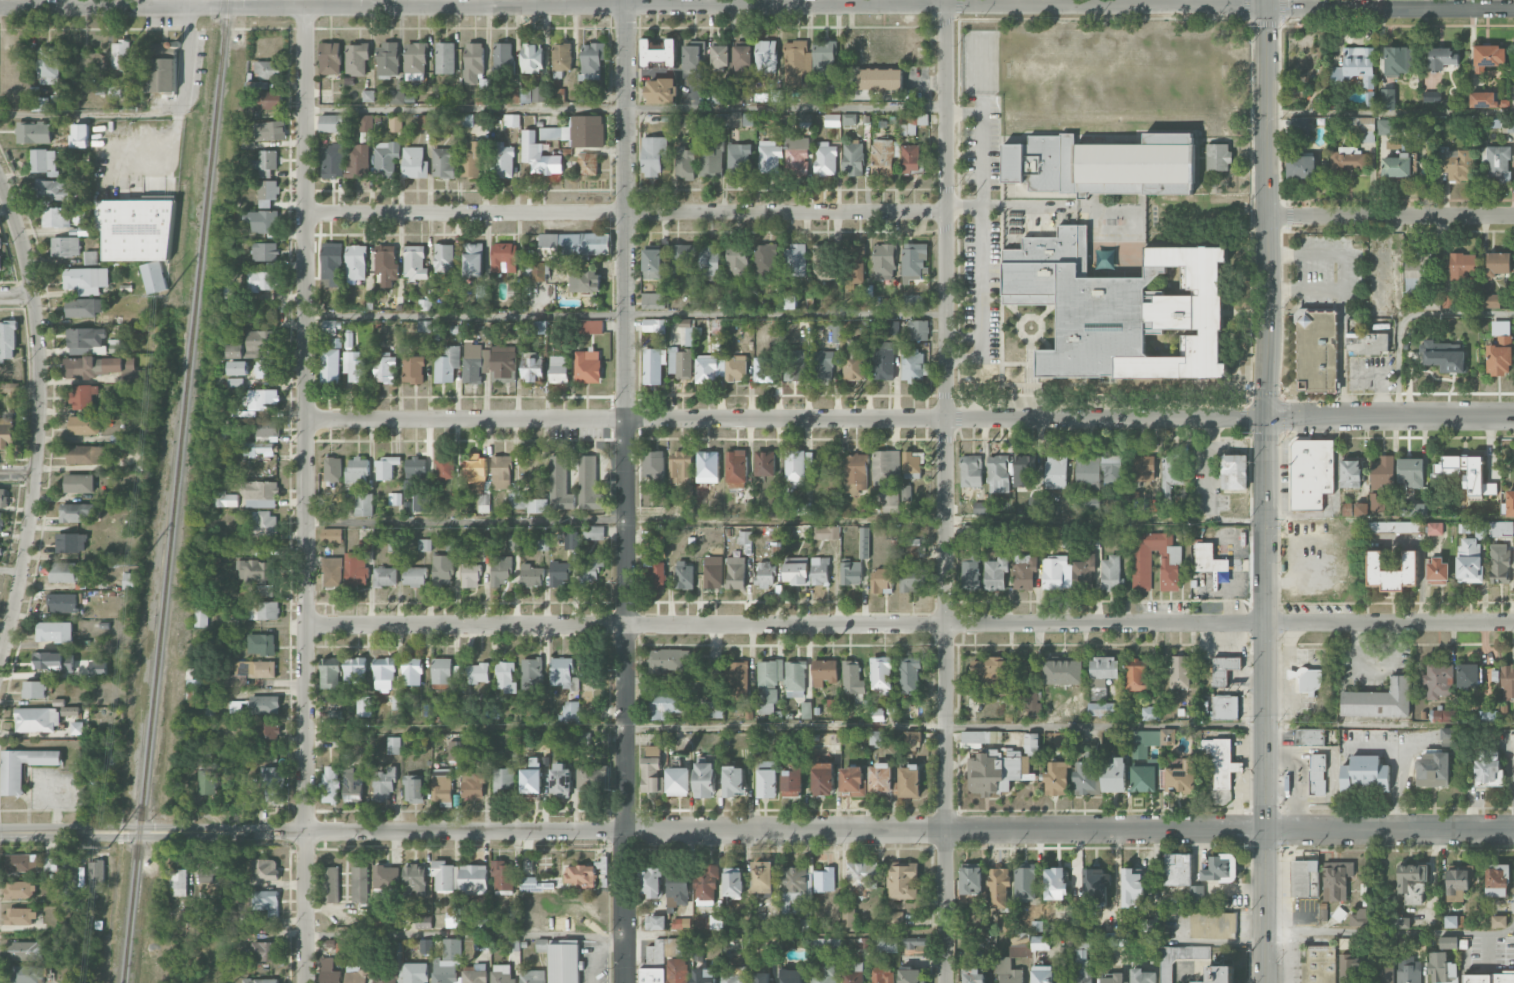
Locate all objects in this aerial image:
road: (1184, 3)
road: (267, 4)
road: (756, 8)
building: (658, 52)
building: (120, 54)
building: (503, 56)
building: (693, 56)
building: (766, 56)
building: (719, 57)
building: (742, 57)
building: (824, 57)
building: (1488, 57)
building: (330, 58)
building: (445, 58)
building: (532, 58)
building: (1442, 58)
building: (357, 59)
building: (561, 59)
building: (387, 60)
road: (186, 61)
building: (415, 61)
building: (592, 61)
building: (1398, 61)
building: (794, 63)
building: (474, 64)
building: (49, 65)
building: (1355, 66)
building: (162, 67)
building: (268, 70)
road: (672, 73)
building: (880, 79)
building: (114, 91)
building: (661, 91)
building: (833, 93)
building: (533, 94)
building: (512, 95)
building: (397, 97)
building: (718, 97)
building: (1387, 99)
building: (1482, 99)
building: (38, 100)
building: (270, 100)
road: (625, 109)
road: (89, 114)
road: (1389, 114)
building: (735, 119)
building: (849, 119)
building: (832, 120)
building: (424, 121)
building: (467, 121)
building: (912, 122)
building: (330, 123)
building: (366, 123)
building: (805, 123)
building: (395, 124)
building: (1510, 125)
building: (1300, 127)
building: (1363, 127)
building: (1385, 127)
building: (270, 131)
building: (34, 132)
building: (578, 132)
building: (79, 135)
road: (128, 135)
building: (653, 155)
building: (539, 156)
building: (769, 156)
building: (386, 157)
building: (796, 157)
building: (882, 157)
building: (1217, 157)
building: (910, 158)
building: (739, 159)
building: (824, 159)
building: (853, 159)
building: (358, 160)
building: (473, 160)
building: (712, 160)
building: (44, 161)
building: (333, 161)
building: (505, 161)
building: (1346, 161)
building: (266, 163)
building: (414, 163)
building: (444, 163)
building: (685, 163)
building: (588, 164)
building: (1498, 164)
building: (1103, 165)
building: (1455, 165)
building: (1396, 166)
building: (1301, 167)
building: (267, 192)
road: (964, 206)
road: (625, 211)
building: (56, 217)
road: (1391, 219)
building: (262, 221)
building: (136, 229)
road: (982, 236)
building: (573, 244)
building: (65, 246)
building: (0, 247)
building: (265, 252)
building: (504, 257)
building: (443, 258)
building: (821, 258)
building: (473, 259)
building: (710, 260)
building: (795, 260)
building: (682, 261)
building: (737, 261)
building: (356, 262)
building: (883, 262)
building: (913, 262)
building: (332, 263)
building: (386, 263)
building: (415, 263)
building: (652, 263)
building: (765, 263)
building: (854, 263)
building: (1497, 264)
building: (1462, 265)
building: (540, 271)
building: (1417, 273)
building: (153, 277)
building: (585, 279)
building: (85, 280)
building: (261, 280)
road: (1304, 288)
power tower: (165, 294)
road: (16, 296)
road: (1341, 299)
building: (653, 300)
building: (912, 301)
building: (1490, 301)
building: (424, 303)
building: (83, 307)
building: (1122, 309)
road: (625, 312)
road: (1409, 315)
building: (653, 325)
building: (421, 326)
building: (591, 326)
building: (330, 327)
building: (539, 327)
building: (891, 327)
building: (918, 330)
road: (964, 335)
building: (7, 340)
building: (1367, 343)
building: (258, 344)
building: (235, 350)
building: (1499, 350)
building: (1317, 351)
building: (1443, 357)
building: (854, 360)
building: (883, 361)
building: (474, 362)
building: (503, 363)
building: (680, 363)
building: (447, 364)
building: (796, 365)
building: (330, 366)
building: (354, 366)
building: (588, 366)
building: (652, 366)
building: (823, 366)
building: (912, 366)
building: (105, 368)
building: (238, 368)
building: (385, 368)
building: (532, 368)
building: (709, 368)
building: (735, 368)
building: (265, 369)
building: (413, 369)
building: (559, 369)
building: (763, 369)
building: (235, 382)
building: (9, 387)
building: (83, 397)
building: (263, 398)
road: (38, 417)
road: (909, 418)
building: (84, 425)
building: (265, 428)
building: (7, 441)
building: (258, 448)
building: (86, 454)
building: (765, 463)
building: (912, 465)
building: (654, 466)
building: (385, 467)
building: (680, 467)
building: (707, 467)
building: (444, 468)
building: (797, 468)
building: (1146, 468)
building: (333, 469)
building: (736, 469)
building: (1113, 469)
building: (357, 470)
building: (1024, 470)
building: (970, 471)
building: (1087, 471)
building: (501, 472)
building: (1056, 472)
building: (1234, 472)
building: (1382, 472)
building: (1411, 472)
road: (17, 473)
building: (855, 473)
building: (998, 473)
building: (1170, 473)
building: (1311, 473)
building: (1465, 473)
building: (475, 474)
building: (1350, 474)
building: (884, 479)
building: (79, 483)
building: (560, 484)
building: (589, 484)
railway: (174, 491)
road: (624, 491)
road: (946, 491)
road: (1267, 491)
building: (249, 495)
building: (3, 496)
road: (305, 496)
building: (515, 496)
building: (394, 499)
building: (421, 502)
building: (483, 503)
building: (1509, 503)
building: (363, 504)
building: (1375, 504)
building: (538, 505)
building: (980, 508)
building: (1360, 509)
building: (1414, 509)
building: (75, 513)
building: (107, 515)
road: (909, 521)
building: (1, 522)
building: (265, 524)
building: (1394, 527)
building: (1434, 528)
building: (594, 532)
building: (826, 532)
building: (970, 532)
building: (331, 535)
building: (744, 538)
building: (569, 540)
building: (71, 542)
building: (513, 542)
building: (864, 542)
building: (366, 544)
building: (424, 544)
building: (452, 544)
building: (540, 544)
building: (0, 552)
building: (1208, 559)
building: (1469, 560)
power tower: (136, 564)
building: (1499, 564)
building: (590, 567)
road: (10, 569)
building: (355, 569)
building: (442, 569)
building: (255, 570)
building: (796, 570)
building: (820, 571)
building: (1141, 571)
building: (1438, 571)
building: (67, 572)
building: (332, 572)
building: (499, 572)
building: (713, 572)
building: (736, 572)
building: (970, 572)
building: (1024, 572)
building: (1054, 572)
building: (1391, 572)
building: (851, 573)
building: (995, 573)
building: (1083, 573)
building: (559, 574)
building: (764, 574)
building: (1111, 574)
building: (470, 575)
building: (531, 575)
building: (656, 575)
building: (684, 575)
building: (414, 576)
building: (385, 577)
building: (912, 579)
building: (129, 581)
building: (63, 603)
building: (263, 610)
building: (201, 617)
road: (909, 624)
building: (54, 632)
building: (261, 644)
building: (667, 660)
building: (53, 661)
building: (97, 667)
building: (355, 668)
building: (1223, 669)
building: (251, 671)
building: (412, 671)
building: (1179, 671)
building: (823, 672)
building: (1064, 672)
building: (330, 673)
building: (443, 673)
building: (478, 673)
building: (531, 673)
building: (562, 673)
building: (384, 674)
building: (909, 675)
building: (993, 675)
building: (1102, 675)
building: (1136, 675)
building: (880, 676)
building: (1467, 676)
building: (506, 678)
building: (738, 679)
building: (795, 679)
building: (1307, 679)
building: (1437, 680)
building: (1507, 681)
building: (853, 682)
building: (193, 683)
building: (768, 685)
building: (34, 689)
building: (1380, 700)
building: (665, 704)
building: (264, 705)
building: (363, 706)
building: (1032, 706)
building: (1225, 707)
building: (1513, 708)
building: (712, 709)
building: (1101, 709)
building: (69, 711)
building: (569, 712)
building: (336, 713)
building: (1150, 713)
building: (1440, 716)
building: (876, 717)
building: (37, 720)
road: (909, 725)
building: (76, 728)
building: (268, 730)
building: (1167, 736)
building: (1449, 736)
building: (1309, 737)
building: (977, 738)
building: (1059, 738)
building: (876, 739)
building: (912, 739)
building: (1032, 743)
building: (393, 745)
building: (1142, 745)
building: (454, 751)
building: (1219, 762)
building: (1488, 768)
building: (1433, 769)
building: (651, 771)
building: (997, 771)
building: (1317, 774)
building: (1365, 774)
building: (1086, 775)
building: (1114, 776)
building: (531, 777)
building: (592, 777)
building: (881, 777)
building: (1182, 777)
building: (1056, 778)
building: (766, 779)
building: (823, 779)
building: (1143, 779)
building: (12, 780)
building: (504, 780)
building: (705, 780)
building: (561, 781)
building: (678, 781)
building: (733, 781)
building: (852, 781)
building: (207, 782)
building: (792, 782)
building: (910, 782)
building: (329, 784)
building: (472, 784)
building: (272, 785)
building: (442, 785)
building: (384, 786)
building: (353, 787)
building: (414, 788)
road: (757, 830)
power tower: (105, 847)
building: (21, 863)
building: (51, 863)
building: (1221, 868)
building: (264, 869)
building: (1178, 869)
building: (581, 875)
building: (862, 875)
building: (96, 876)
building: (443, 876)
building: (386, 877)
building: (763, 877)
building: (502, 878)
building: (1304, 878)
building: (209, 879)
building: (415, 879)
building: (473, 879)
building: (970, 879)
building: (824, 880)
building: (1337, 880)
building: (1497, 880)
building: (795, 881)
building: (902, 881)
building: (538, 882)
building: (652, 882)
building: (733, 882)
building: (1457, 882)
building: (178, 883)
building: (1024, 883)
building: (1054, 883)
building: (1413, 883)
building: (68, 884)
building: (331, 884)
building: (360, 884)
building: (705, 884)
building: (998, 887)
building: (1095, 888)
building: (1131, 888)
building: (677, 889)
building: (20, 890)
building: (1197, 896)
building: (266, 902)
building: (20, 916)
building: (452, 917)
building: (848, 918)
building: (1358, 918)
building: (894, 920)
building: (1451, 921)
building: (1498, 921)
building: (423, 922)
building: (655, 922)
building: (708, 922)
building: (1211, 922)
building: (1402, 922)
building: (481, 923)
road: (1390, 931)
road: (624, 934)
building: (1019, 938)
building: (915, 942)
building: (1448, 942)
building: (482, 944)
building: (887, 944)
building: (677, 946)
building: (26, 951)
building: (265, 951)
road: (593, 951)
building: (1018, 951)
building: (656, 954)
building: (1179, 958)
building: (448, 962)
building: (564, 963)
building: (1319, 964)
building: (1351, 968)
building: (1442, 968)
building: (1384, 970)
building: (1409, 970)
building: (328, 971)
building: (1007, 971)
building: (667, 972)
building: (852, 972)
building: (823, 973)
building: (28, 974)
building: (356, 974)
building: (414, 974)
building: (474, 974)
building: (502, 974)
building: (734, 974)
building: (1042, 974)
building: (704, 975)
building: (882, 975)
building: (1220, 975)
building: (532, 976)
building: (791, 976)
building: (911, 976)
building: (973, 976)
building: (1142, 976)
building: (761, 977)
building: (1488, 978)
building: (385, 979)
building: (1114, 979)
building: (260, 980)

